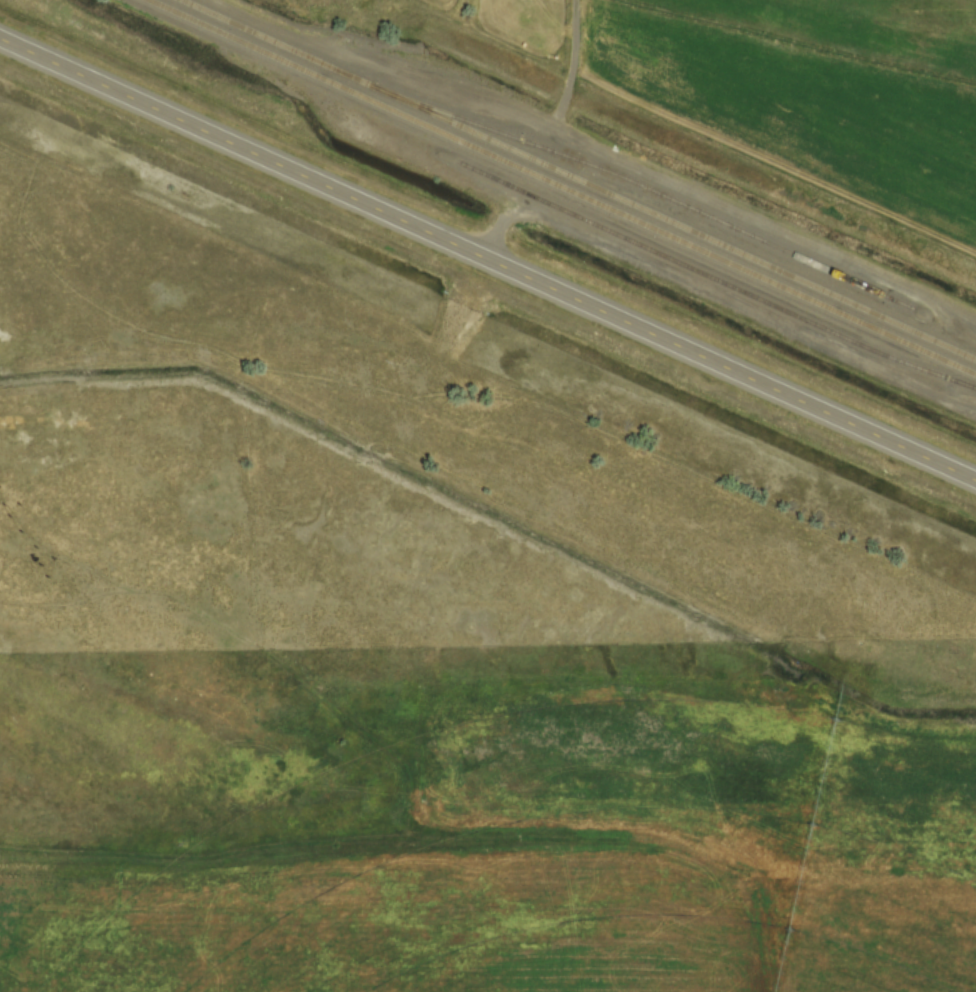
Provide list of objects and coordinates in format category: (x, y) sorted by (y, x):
railway: (581, 179)
railway: (565, 185)
railway: (679, 202)
road: (487, 258)
railway: (712, 276)

